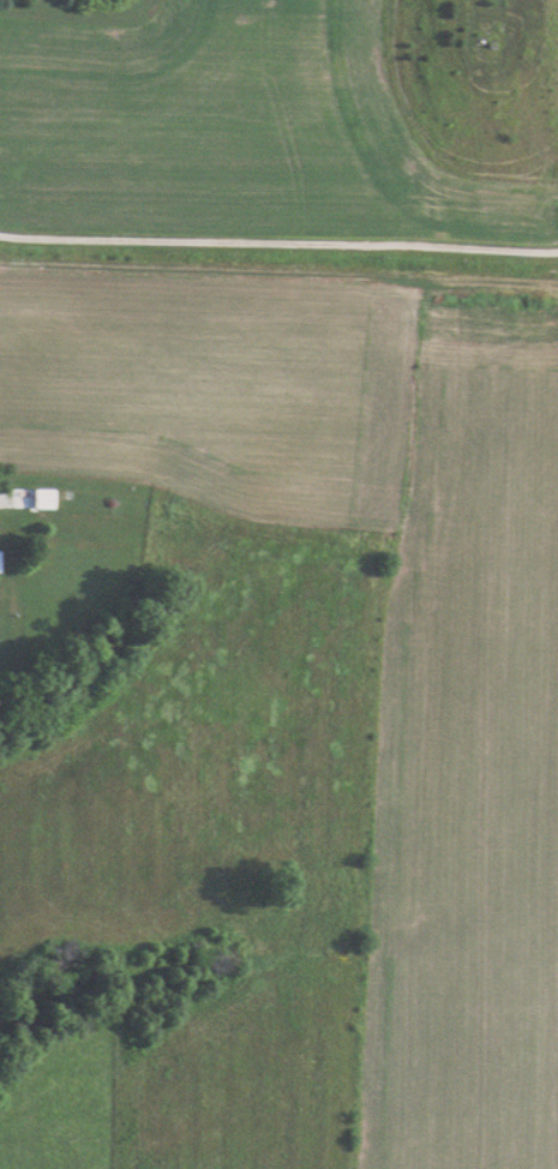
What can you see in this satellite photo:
road: (278, 242)
building: (44, 499)

